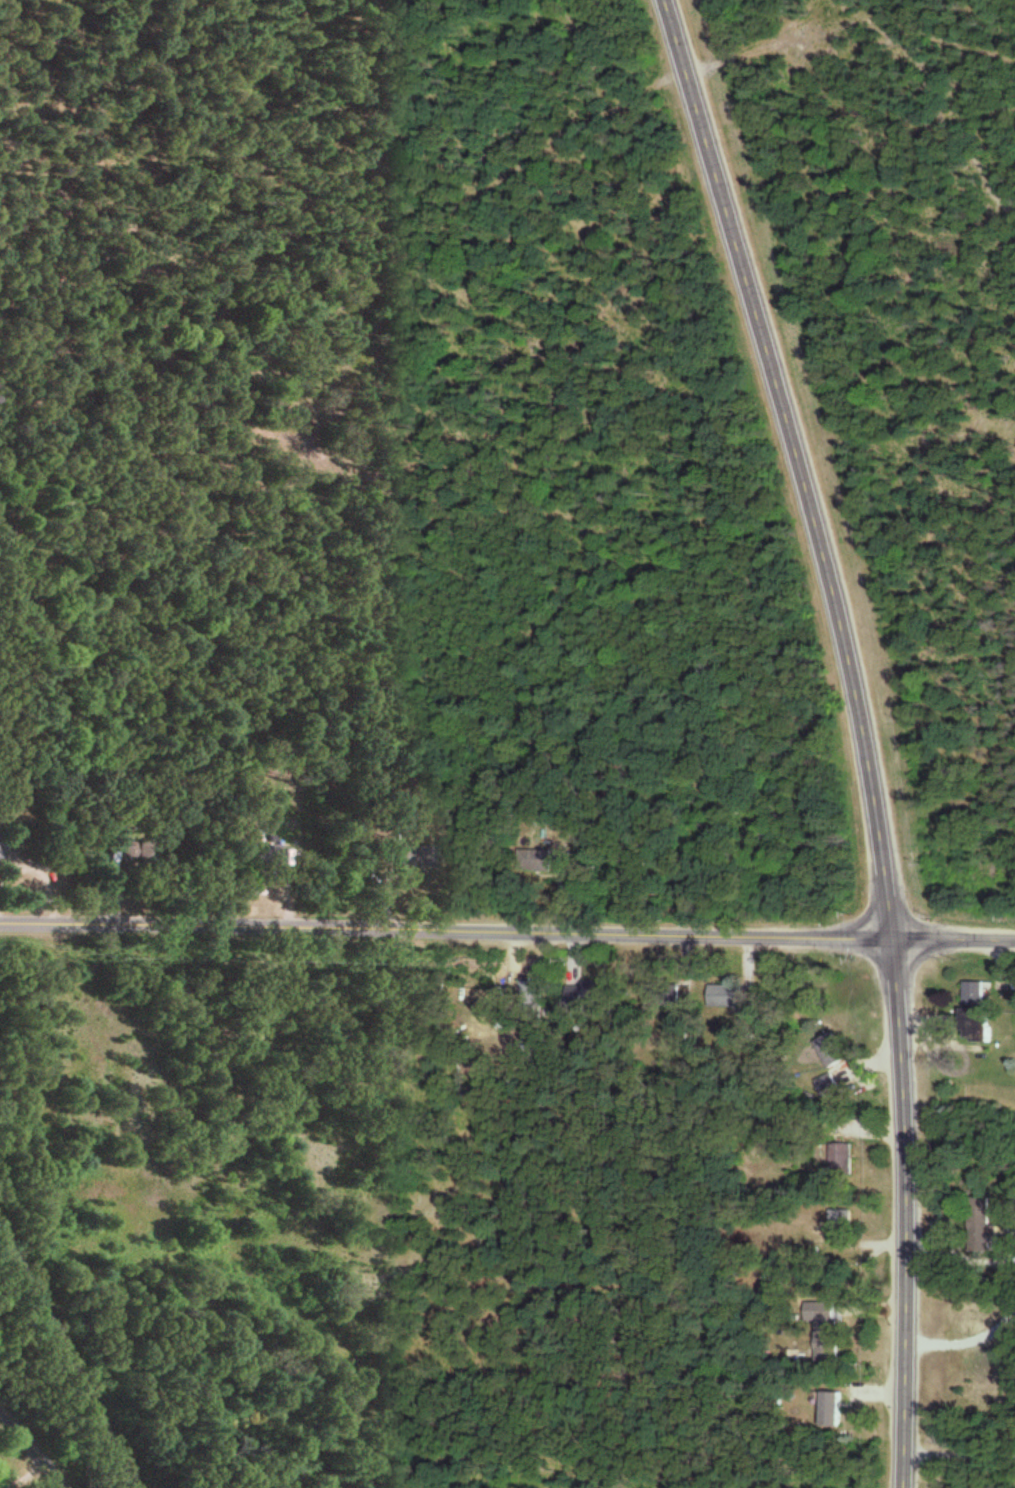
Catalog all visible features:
road: (867, 732)
building: (0, 852)
building: (416, 857)
building: (543, 862)
road: (507, 933)
building: (533, 988)
building: (978, 993)
building: (733, 999)
building: (978, 1023)
building: (832, 1053)
building: (844, 1161)
building: (843, 1227)
road: (963, 1255)
building: (983, 1321)
building: (826, 1330)
road: (969, 1341)
road: (70, 1354)
building: (835, 1411)
road: (34, 1444)
road: (960, 1448)

